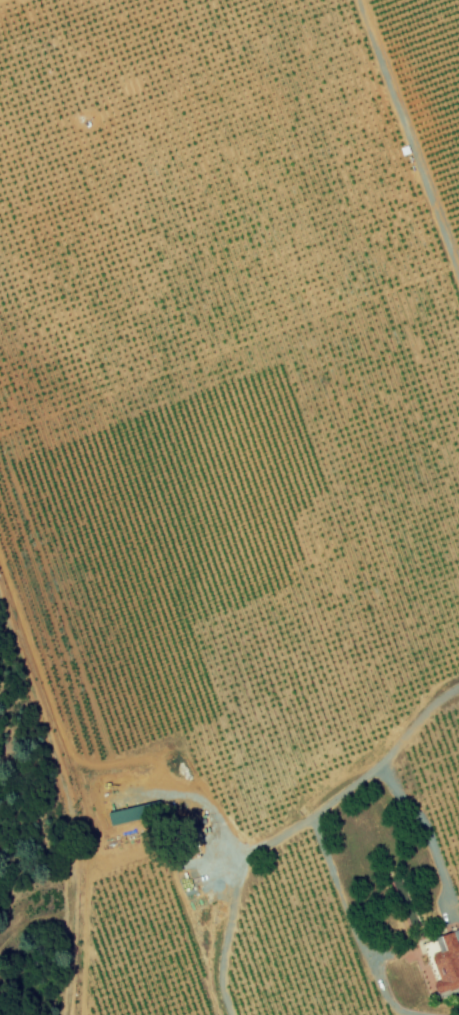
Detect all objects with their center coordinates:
road: (409, 136)
road: (396, 792)
road: (252, 858)
building: (446, 964)

